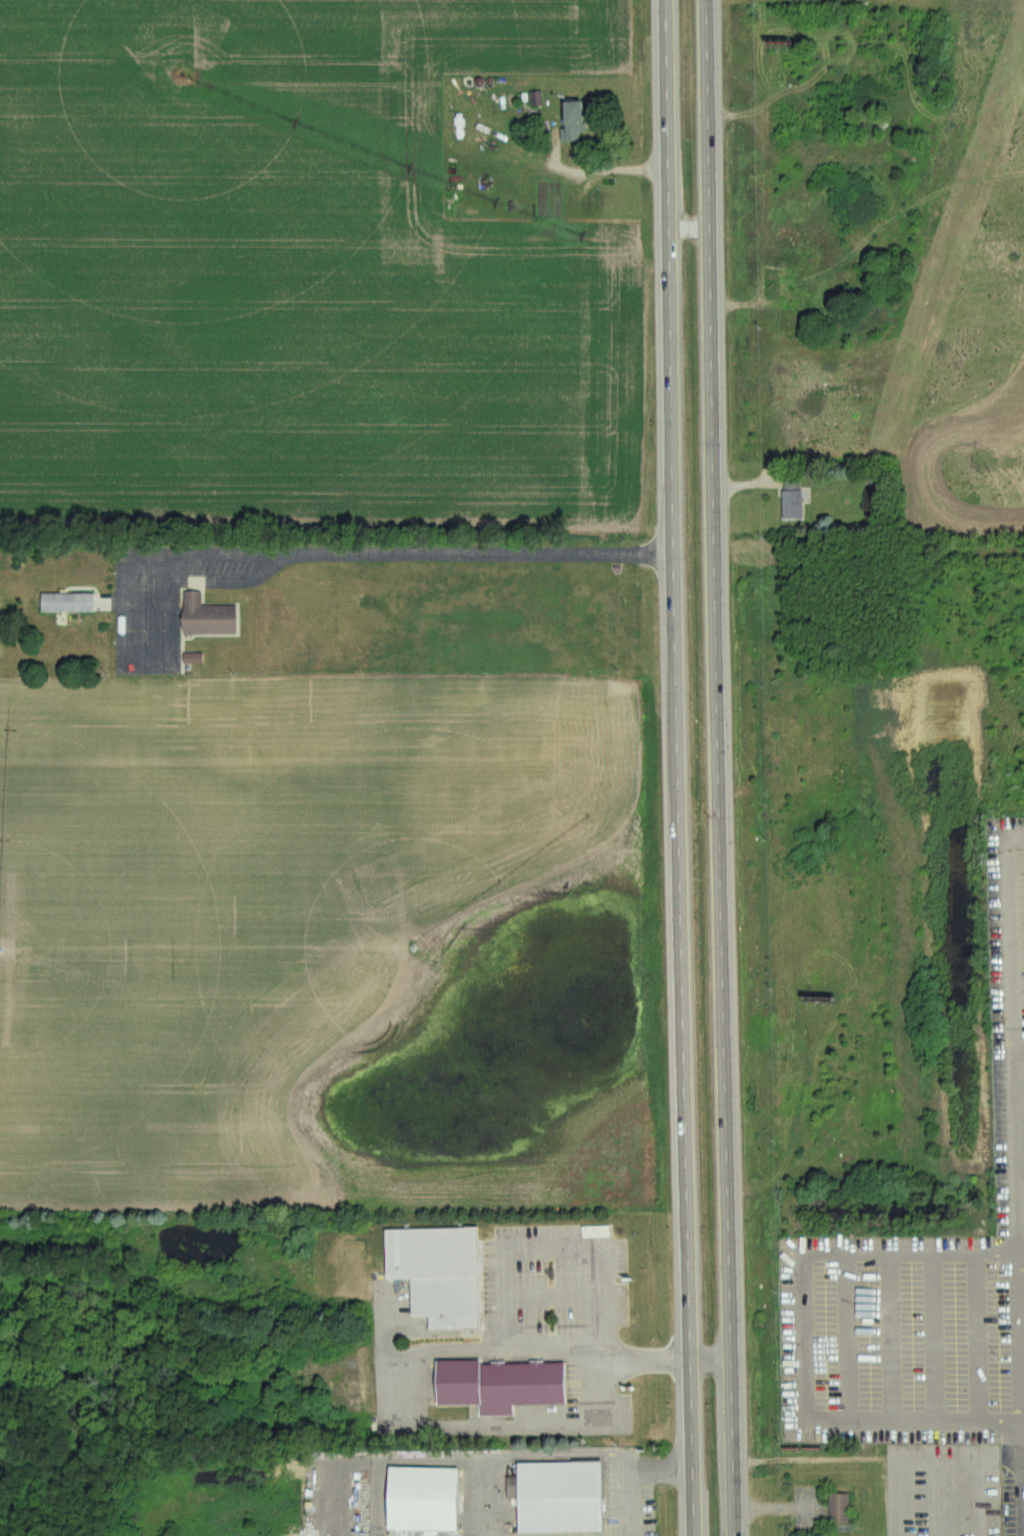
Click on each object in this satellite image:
building: (570, 120)
road: (594, 173)
road: (689, 227)
crop: (298, 285)
building: (796, 286)
road: (742, 304)
road: (738, 484)
building: (792, 499)
road: (374, 552)
building: (66, 603)
building: (206, 616)
building: (191, 658)
road: (678, 768)
road: (718, 768)
crop: (324, 947)
road: (1012, 1036)
road: (1018, 1051)
road: (1020, 1252)
building: (440, 1272)
parking lot: (927, 1282)
road: (554, 1296)
road: (803, 1335)
road: (976, 1335)
road: (1016, 1335)
road: (844, 1336)
road: (889, 1336)
road: (933, 1336)
road: (549, 1353)
road: (390, 1357)
road: (710, 1358)
building: (503, 1385)
road: (1016, 1435)
road: (1020, 1451)
road: (520, 1455)
road: (391, 1457)
road: (961, 1458)
road: (628, 1470)
road: (1016, 1494)
building: (565, 1496)
building: (427, 1497)
building: (842, 1508)
road: (607, 1535)

